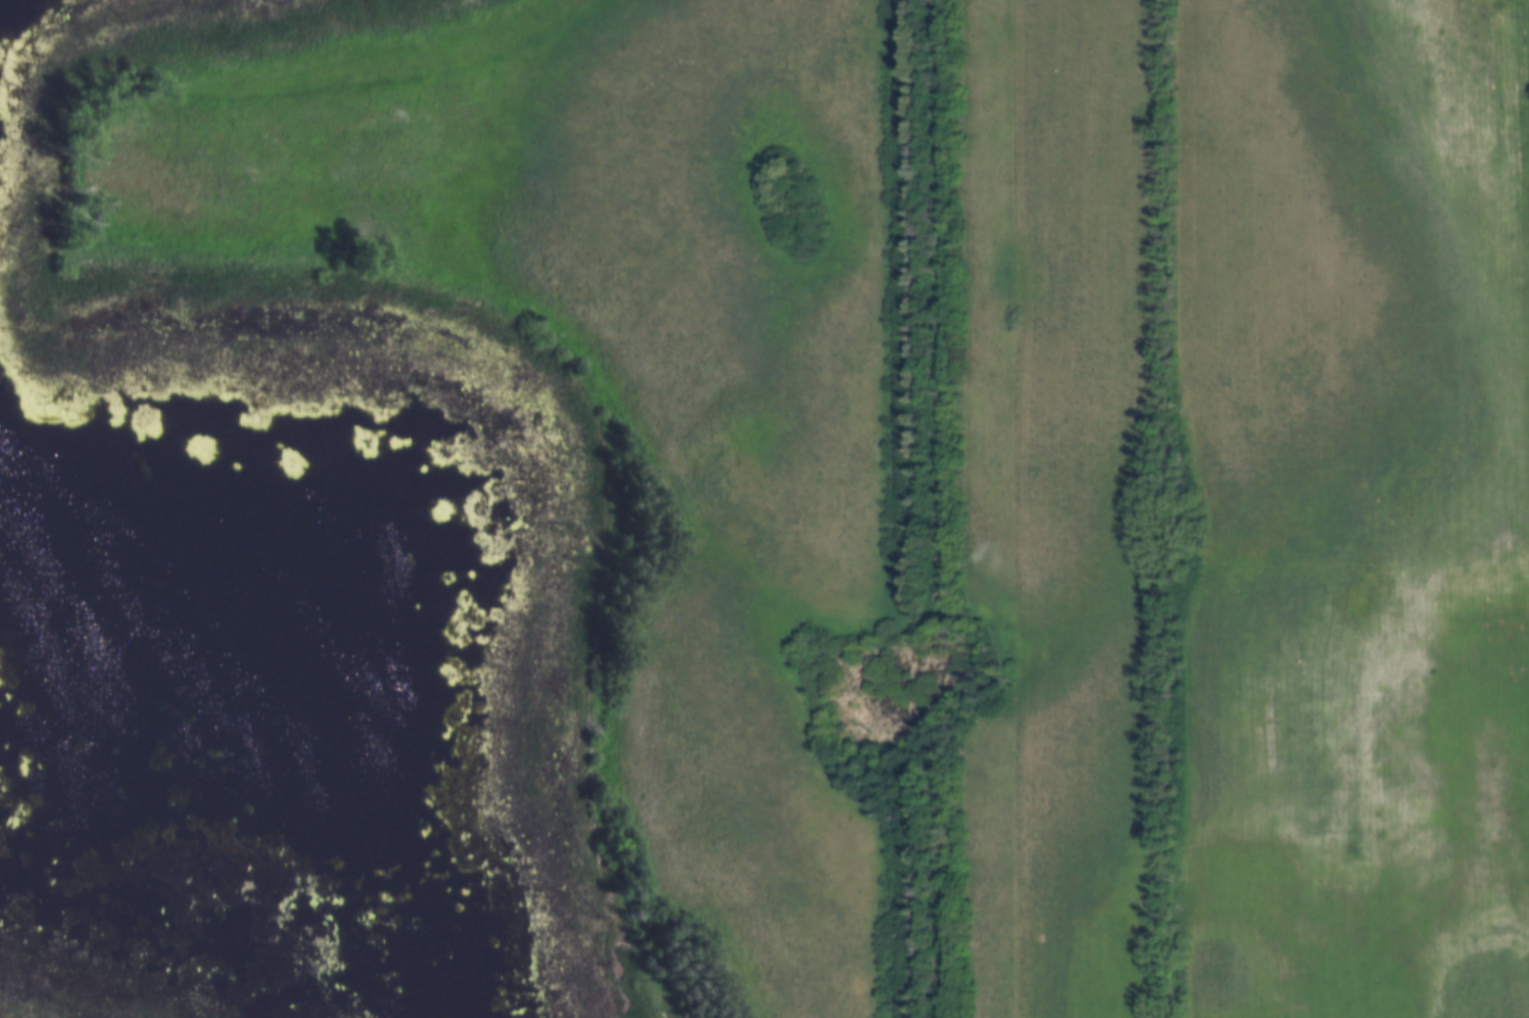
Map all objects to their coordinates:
road: (1527, 68)

